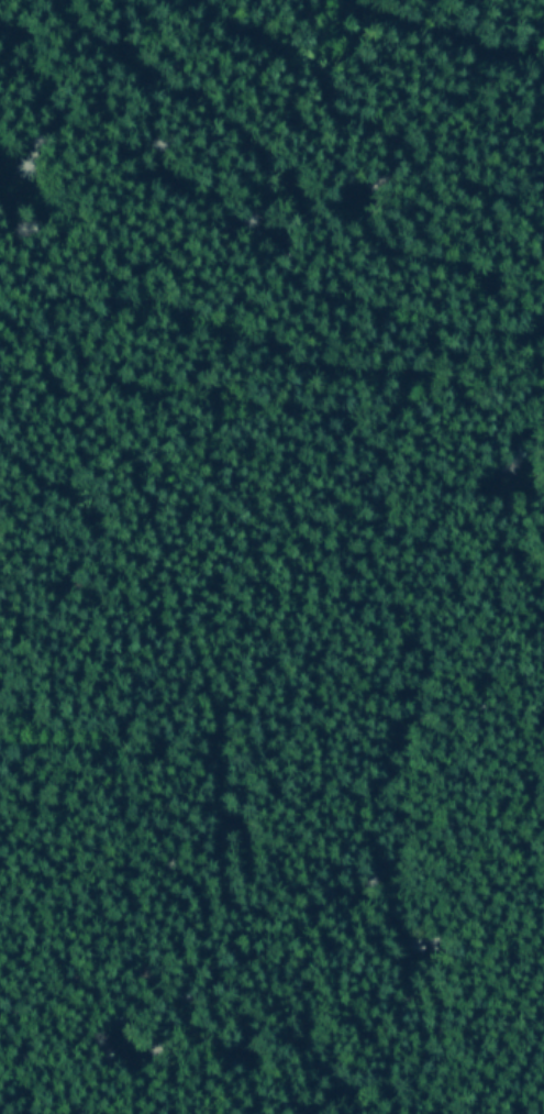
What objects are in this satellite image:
road: (135, 840)

